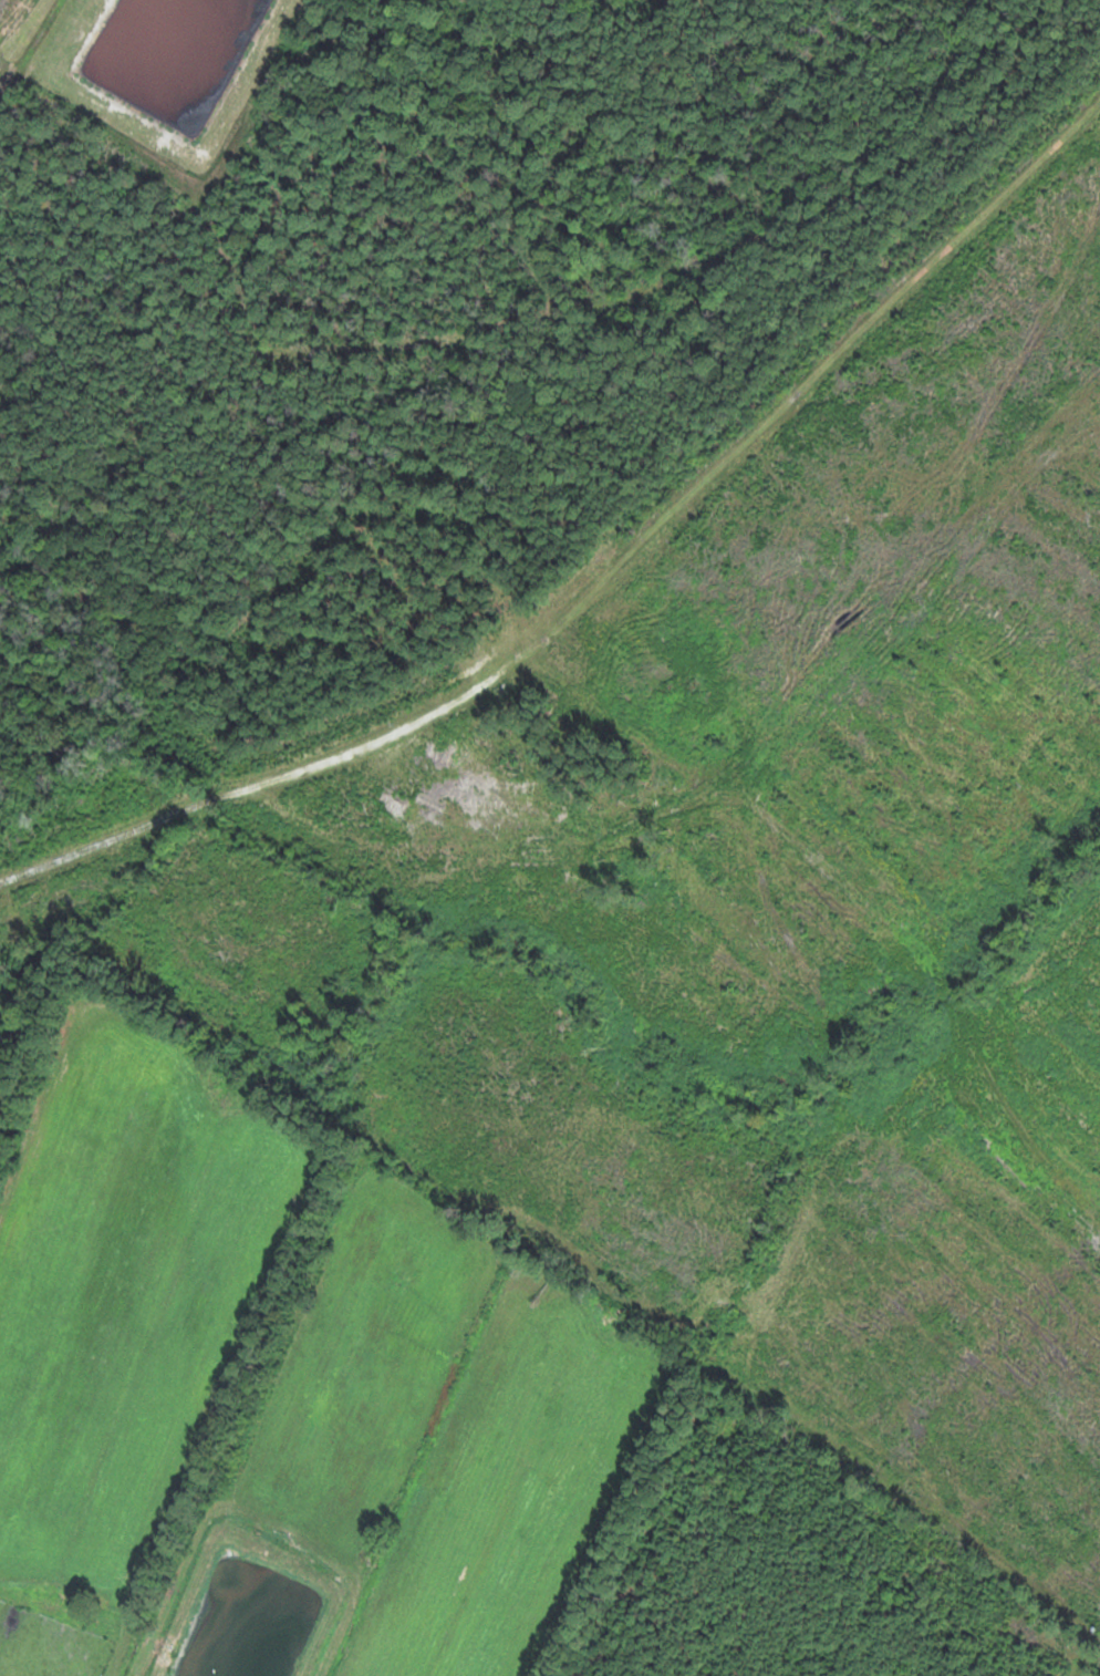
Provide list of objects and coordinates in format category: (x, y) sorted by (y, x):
road: (608, 551)

